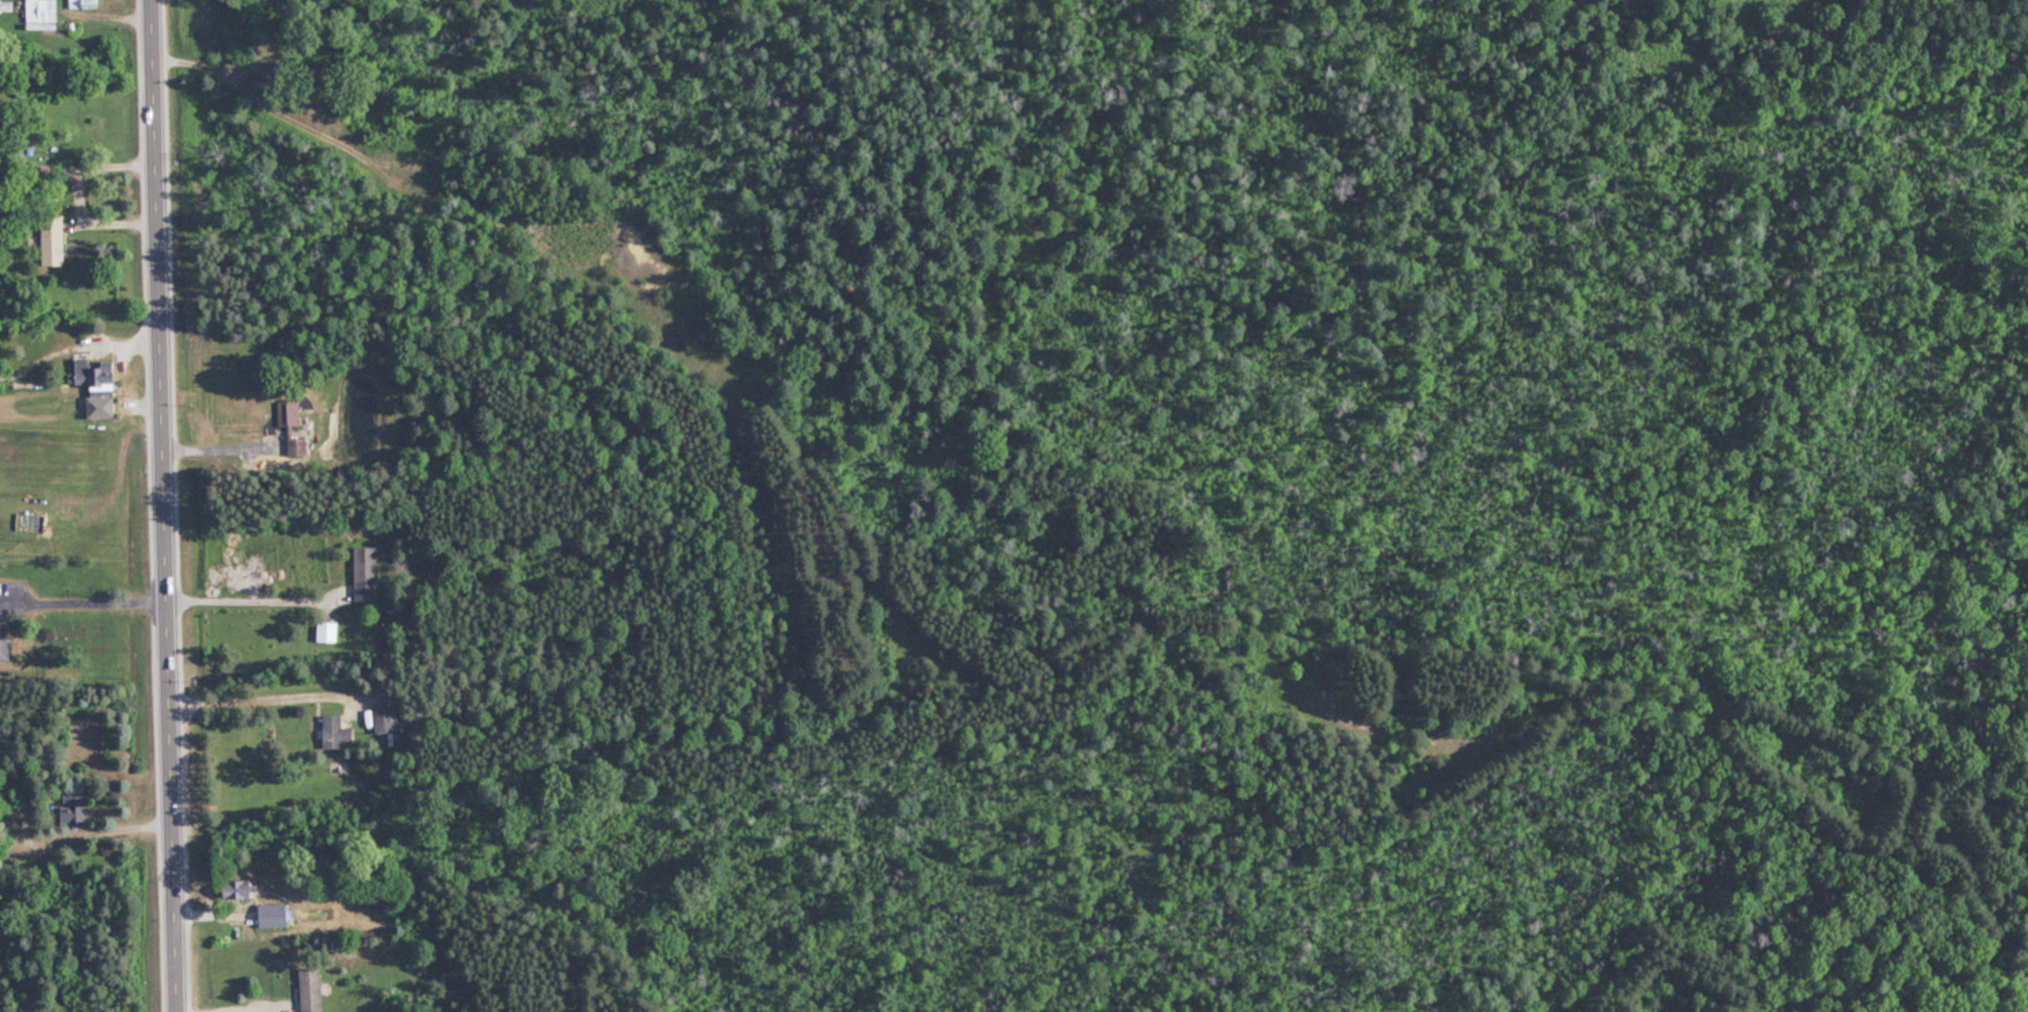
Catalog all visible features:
building: (41, 11)
building: (53, 242)
building: (98, 384)
building: (291, 423)
road: (225, 448)
park: (1191, 485)
road: (167, 506)
building: (365, 573)
road: (258, 601)
road: (84, 602)
building: (327, 631)
building: (4, 642)
road: (272, 698)
building: (384, 721)
building: (336, 731)
building: (239, 888)
building: (273, 915)
building: (310, 990)
road: (258, 1010)

